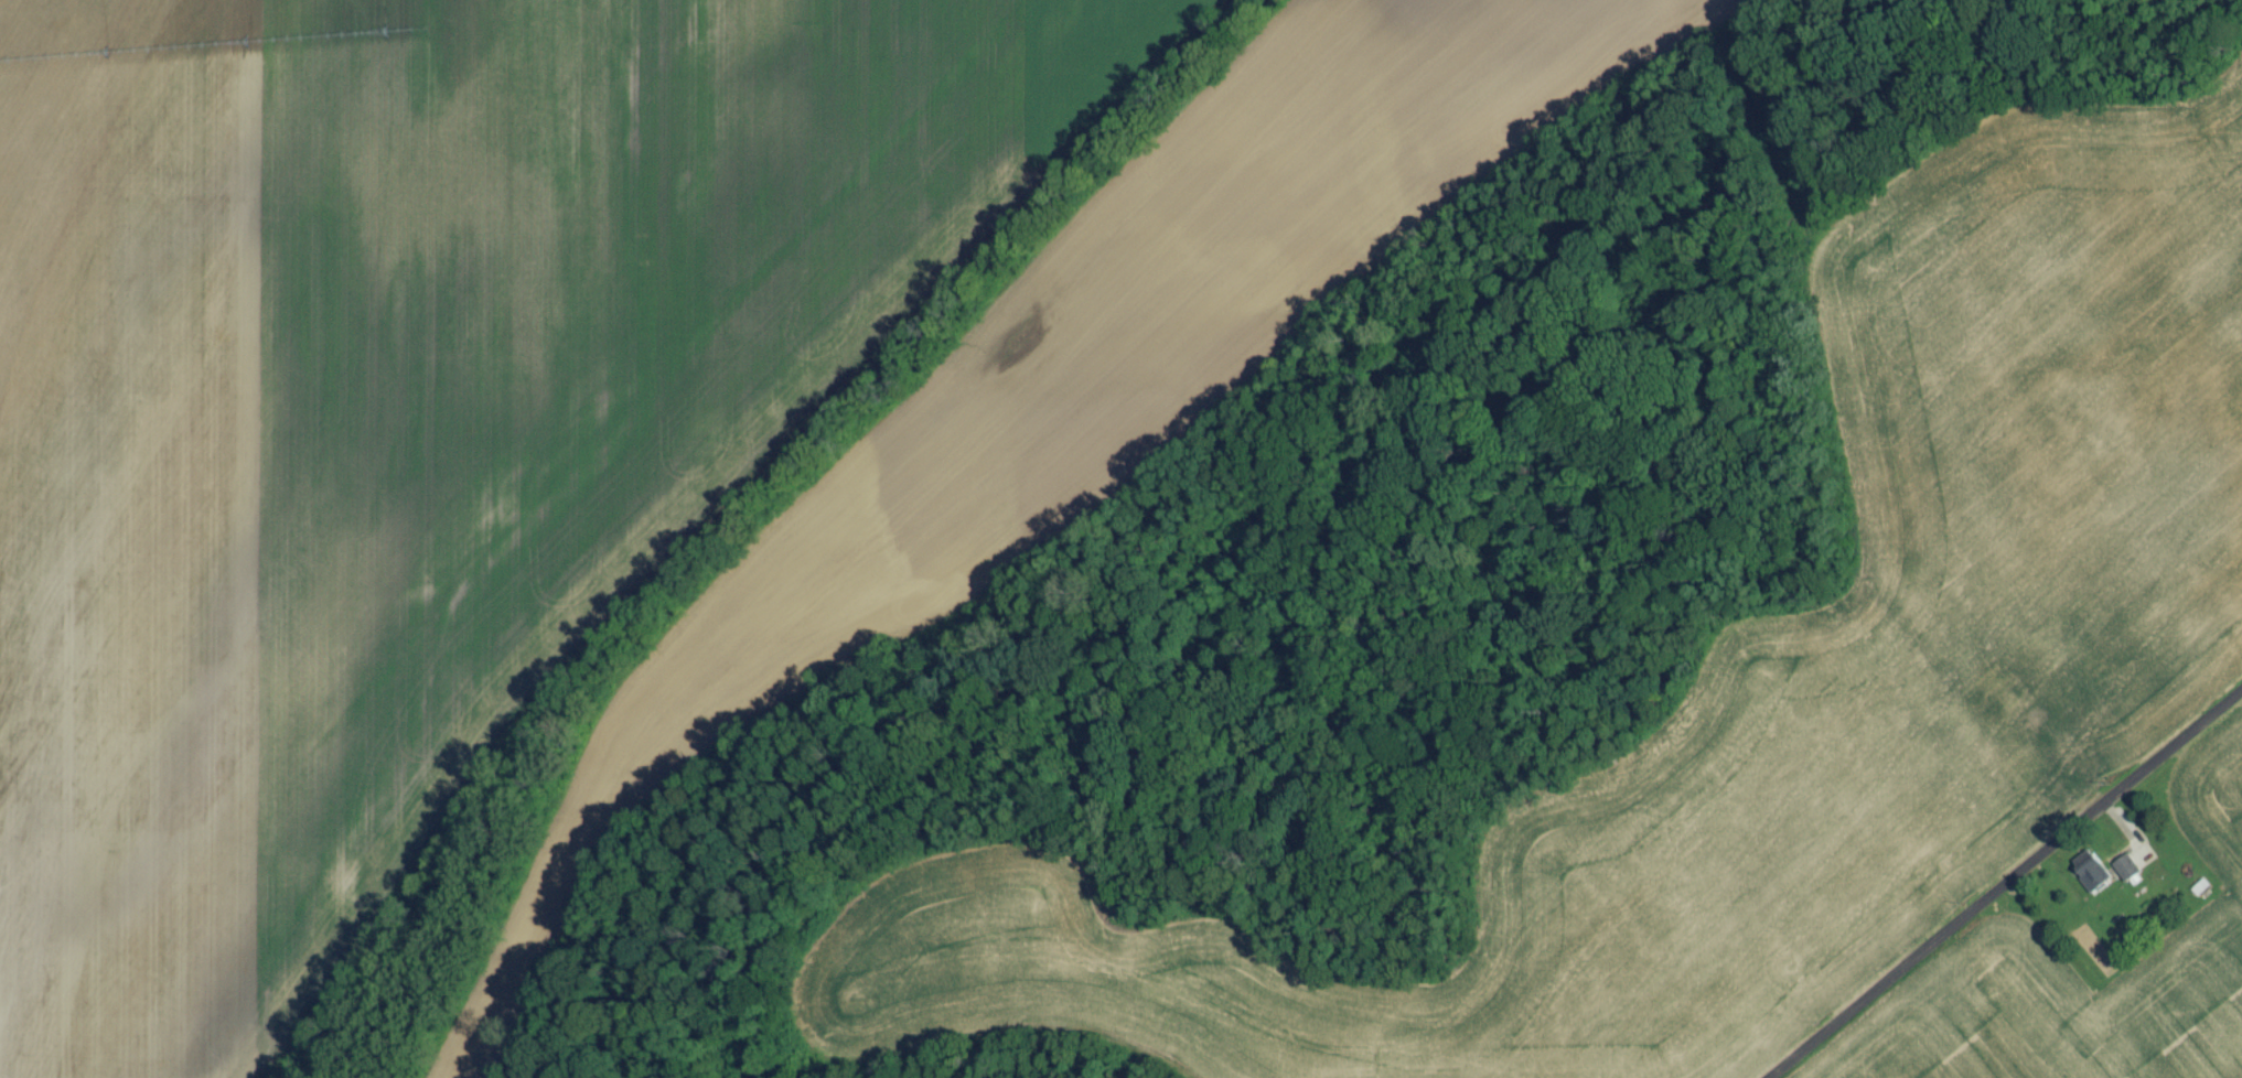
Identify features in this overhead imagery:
building: (2072, 767)
building: (2128, 875)
building: (2091, 880)
road: (2019, 895)
building: (2201, 895)
road: (996, 1058)

